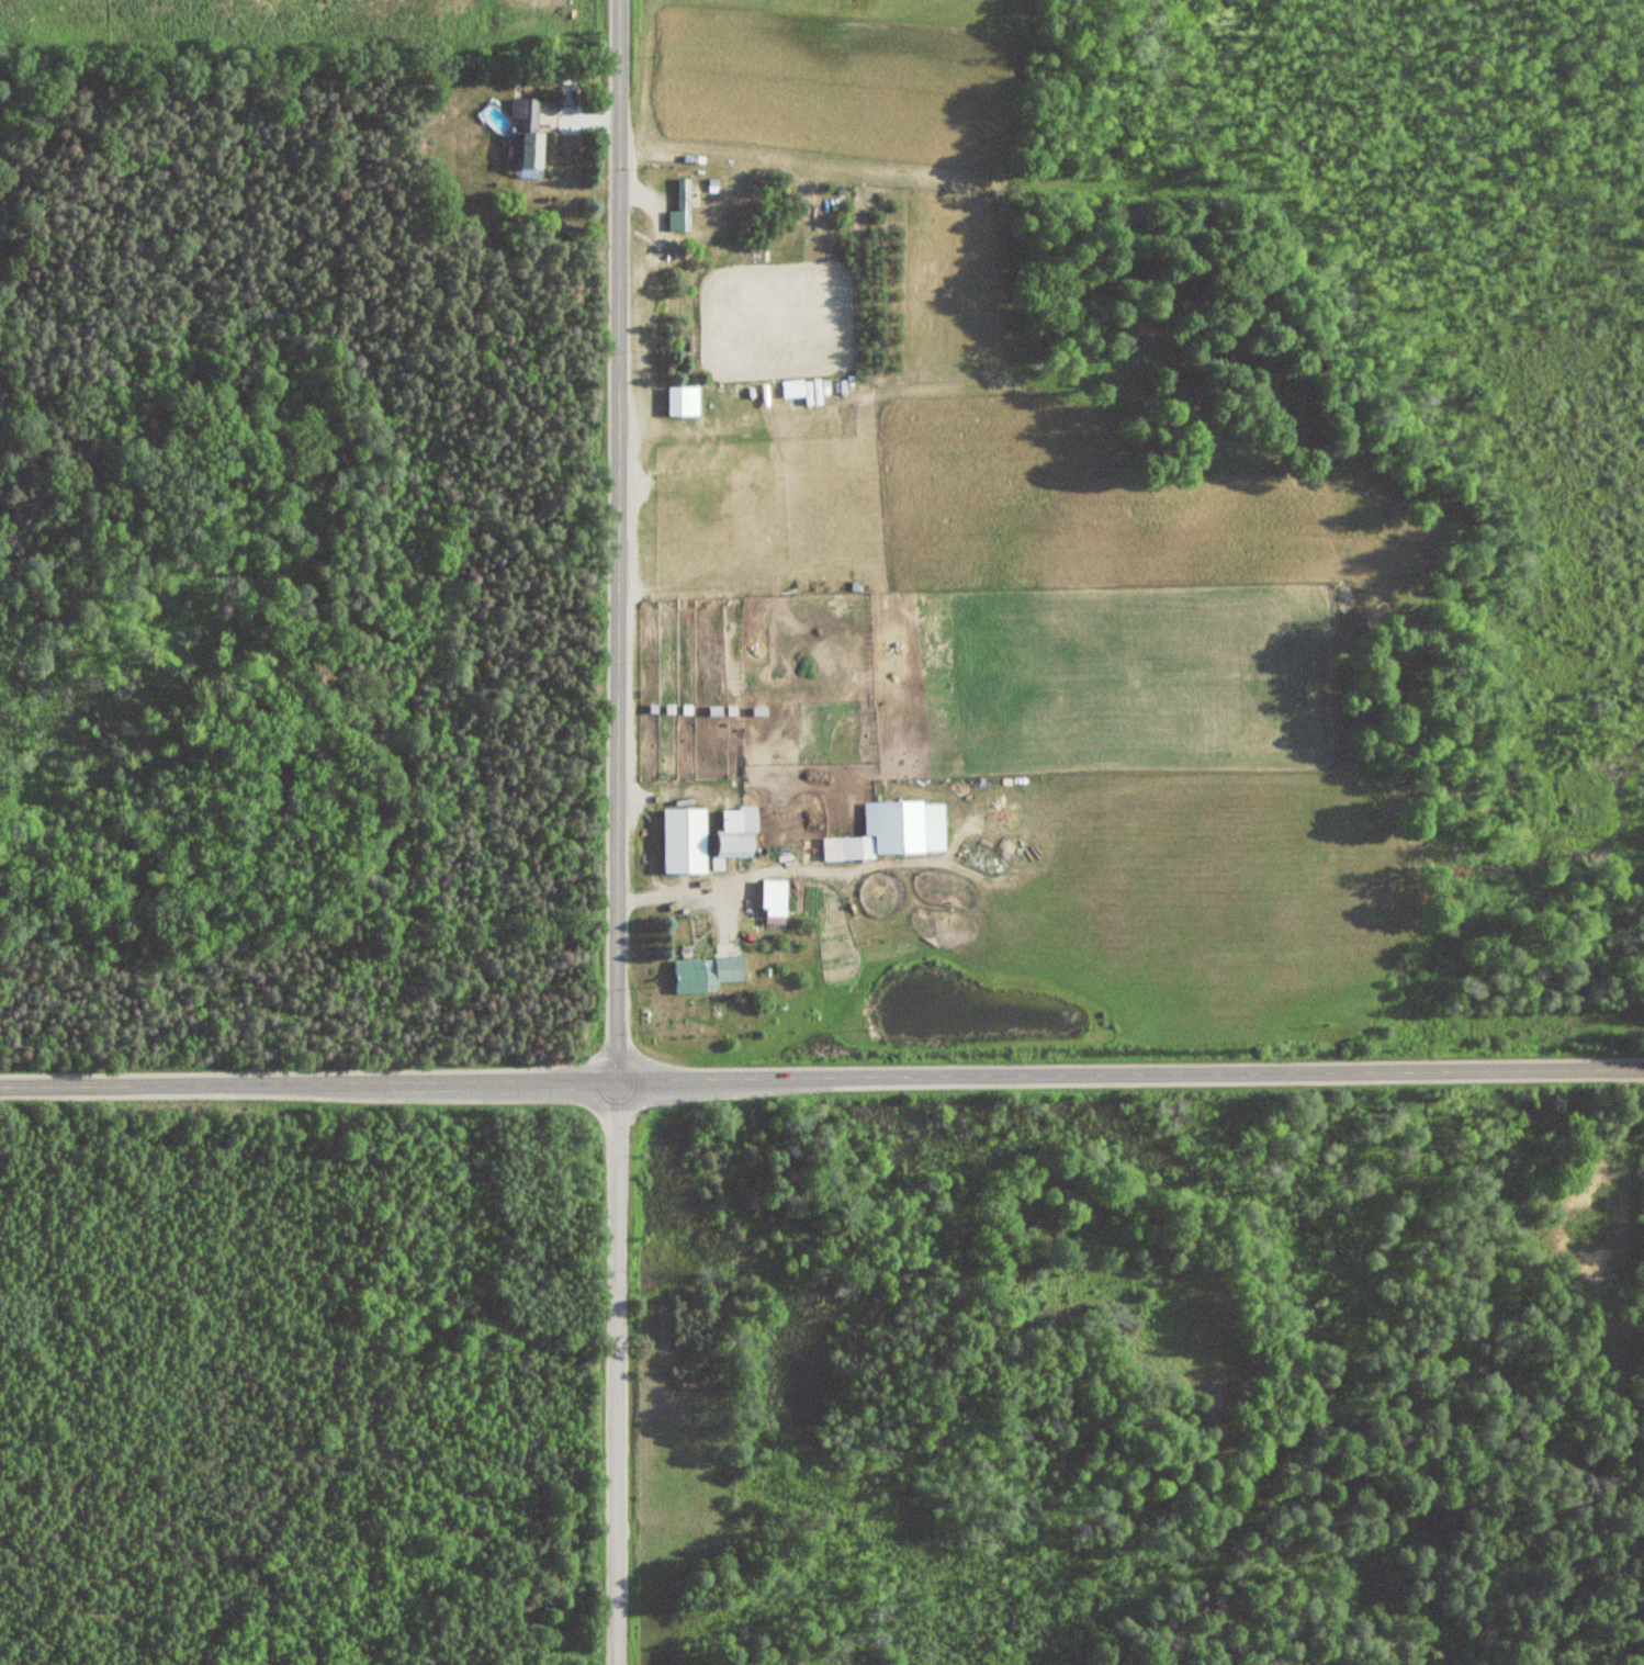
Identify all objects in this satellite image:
building: (527, 133)
building: (686, 204)
building: (685, 401)
building: (1150, 656)
building: (897, 826)
road: (611, 832)
building: (739, 836)
building: (687, 841)
building: (844, 848)
building: (708, 972)
road: (822, 1075)

